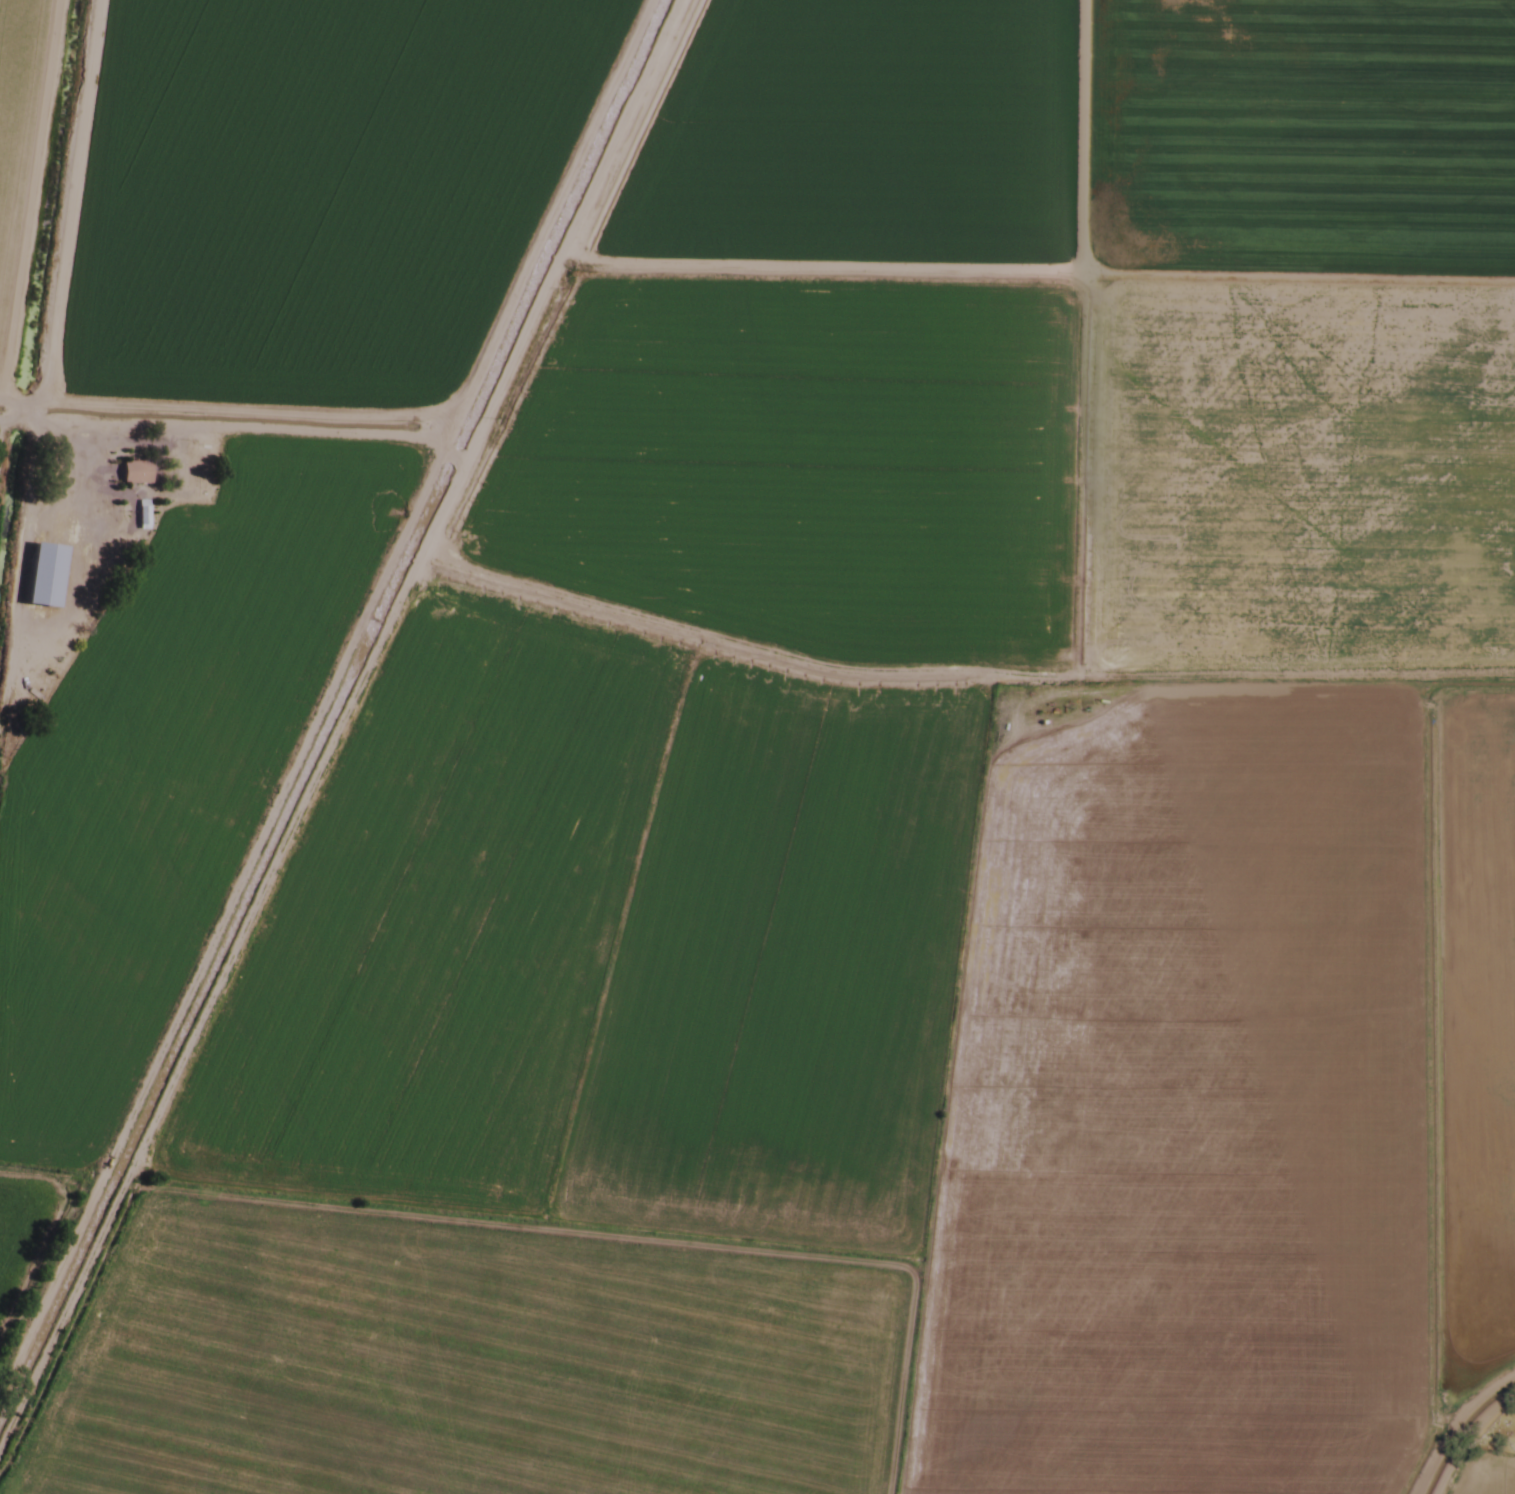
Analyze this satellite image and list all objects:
road: (173, 423)
building: (187, 465)
building: (133, 473)
building: (140, 512)
building: (42, 575)
road: (322, 686)

